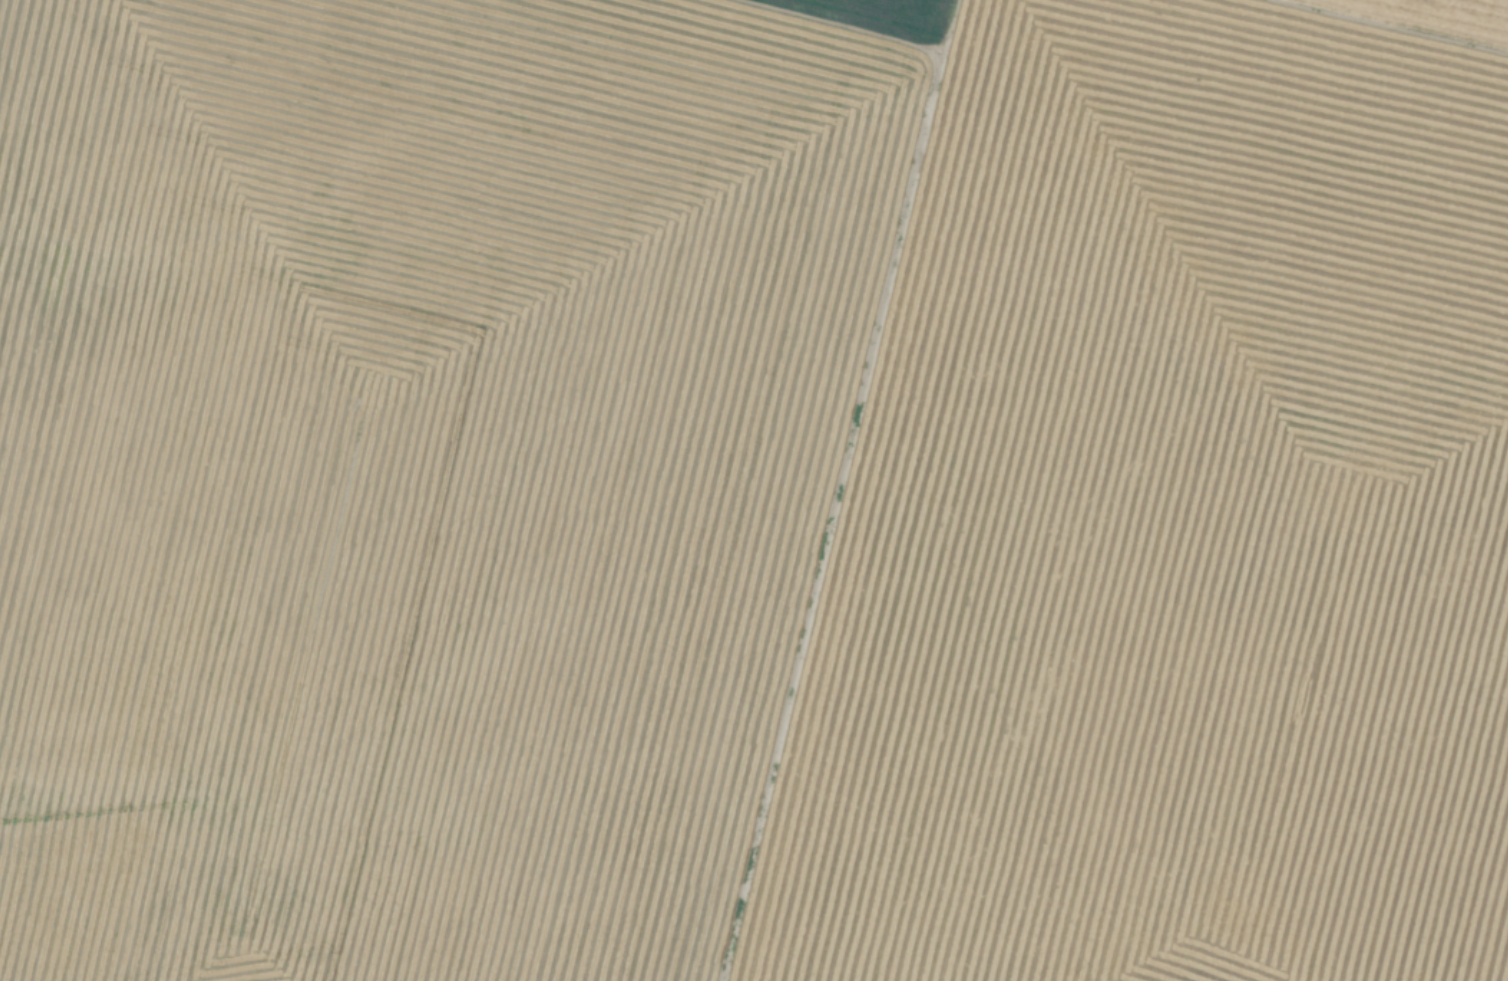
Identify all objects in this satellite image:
crop: (754, 490)

